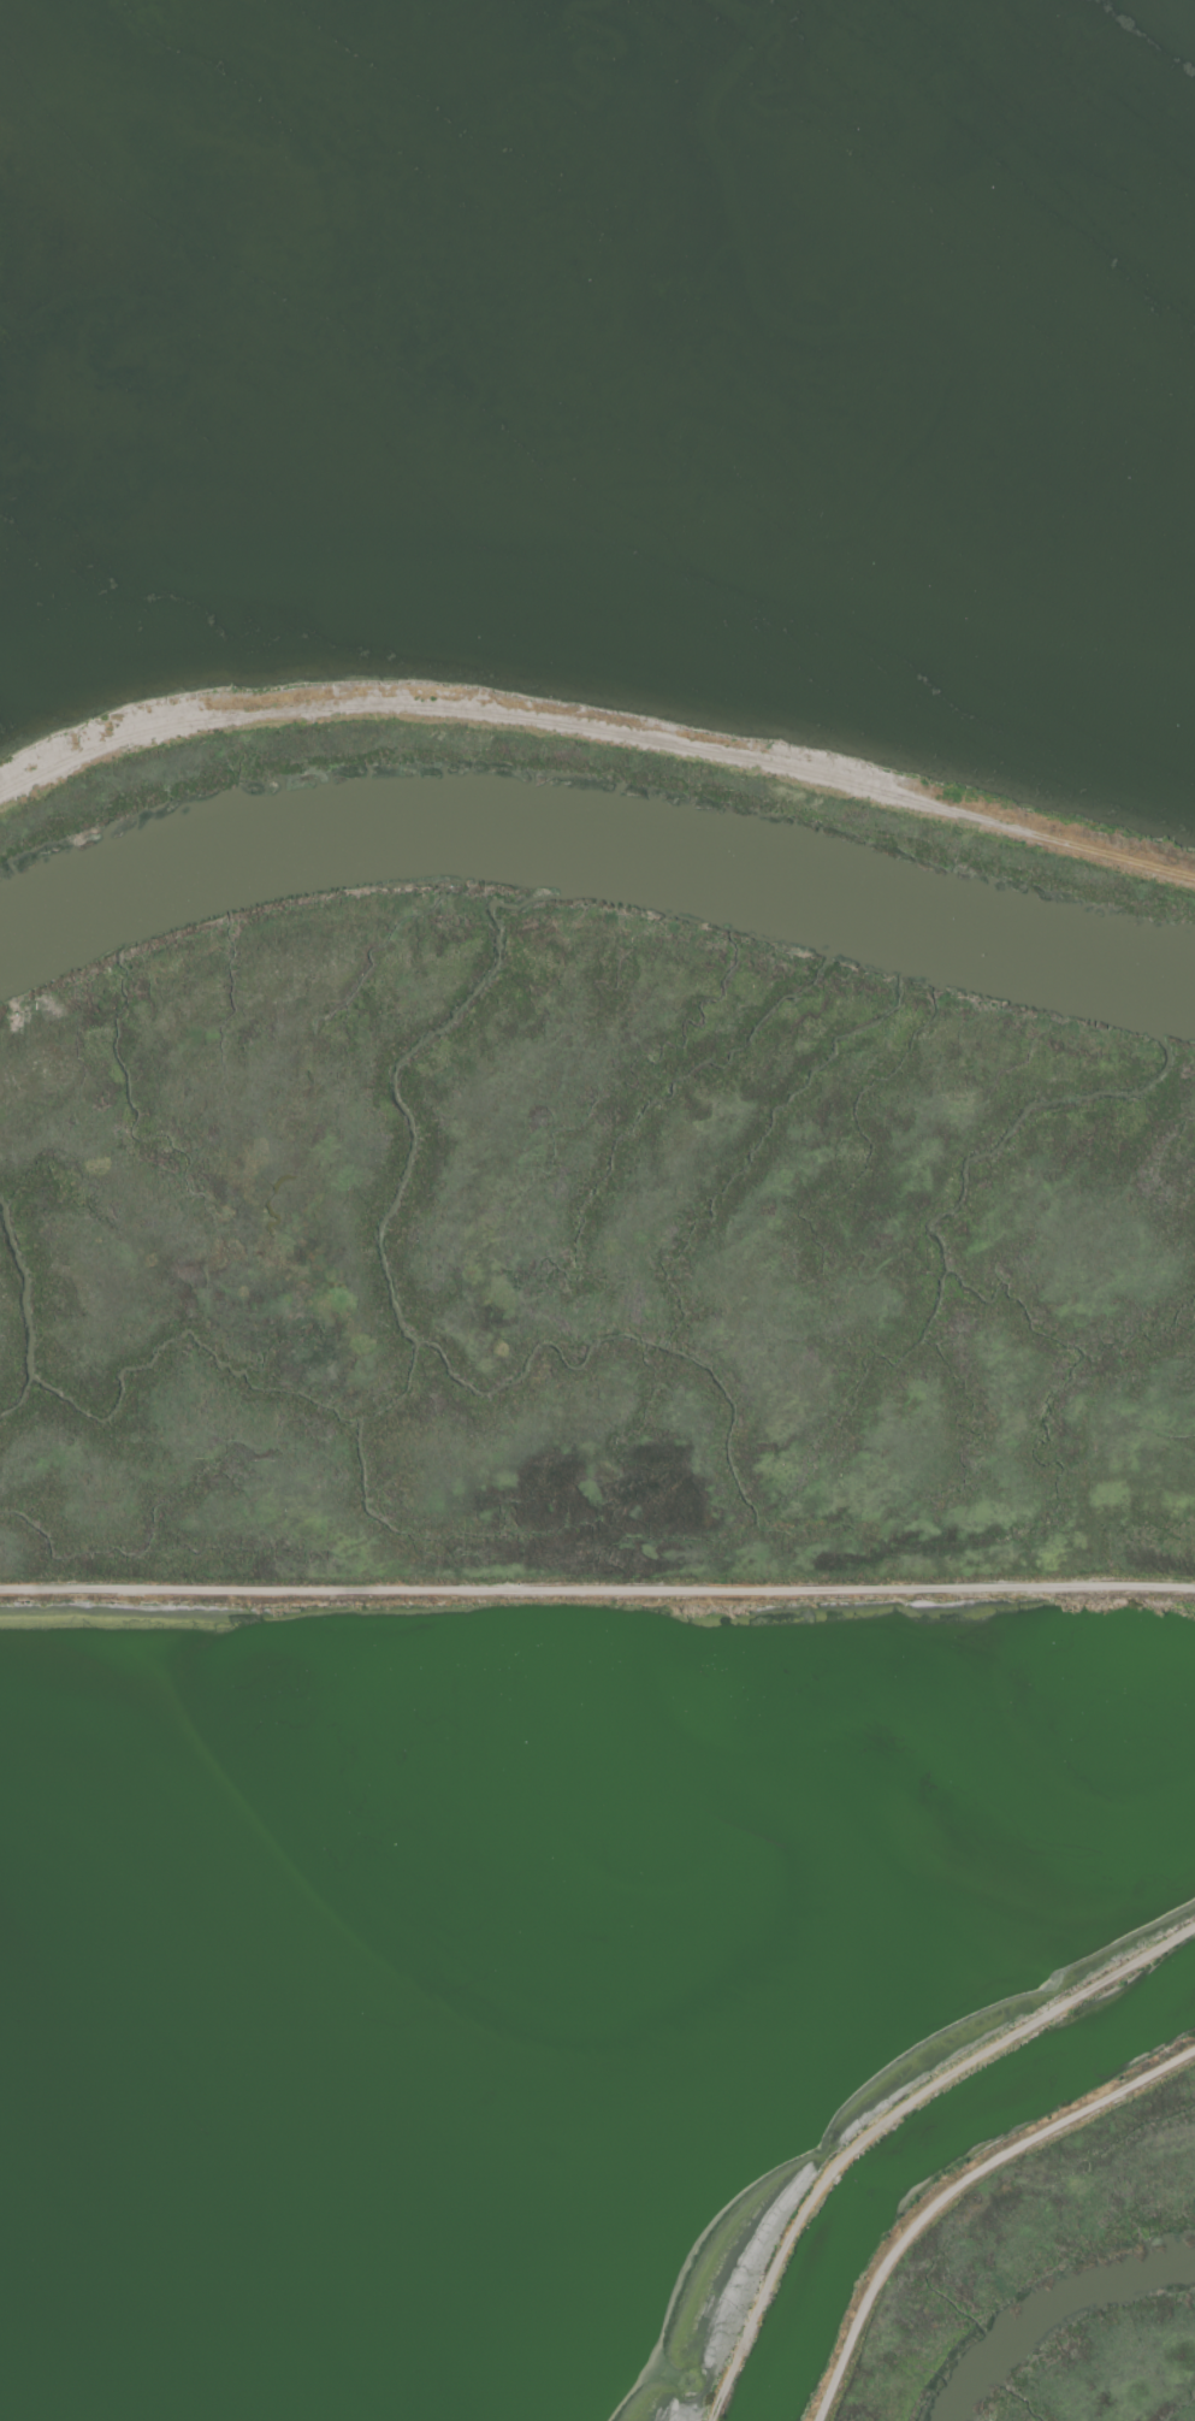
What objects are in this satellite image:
road: (597, 732)
river: (594, 857)
road: (597, 1592)
road: (891, 2116)
road: (959, 2190)

